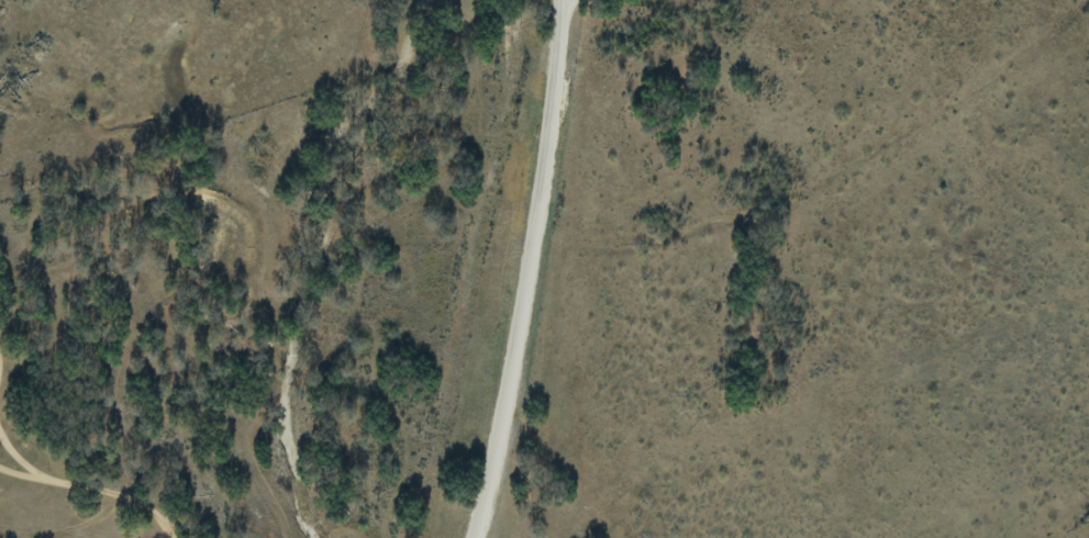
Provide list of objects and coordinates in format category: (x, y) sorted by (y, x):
road: (525, 270)
road: (16, 458)
road: (19, 473)
road: (113, 493)

